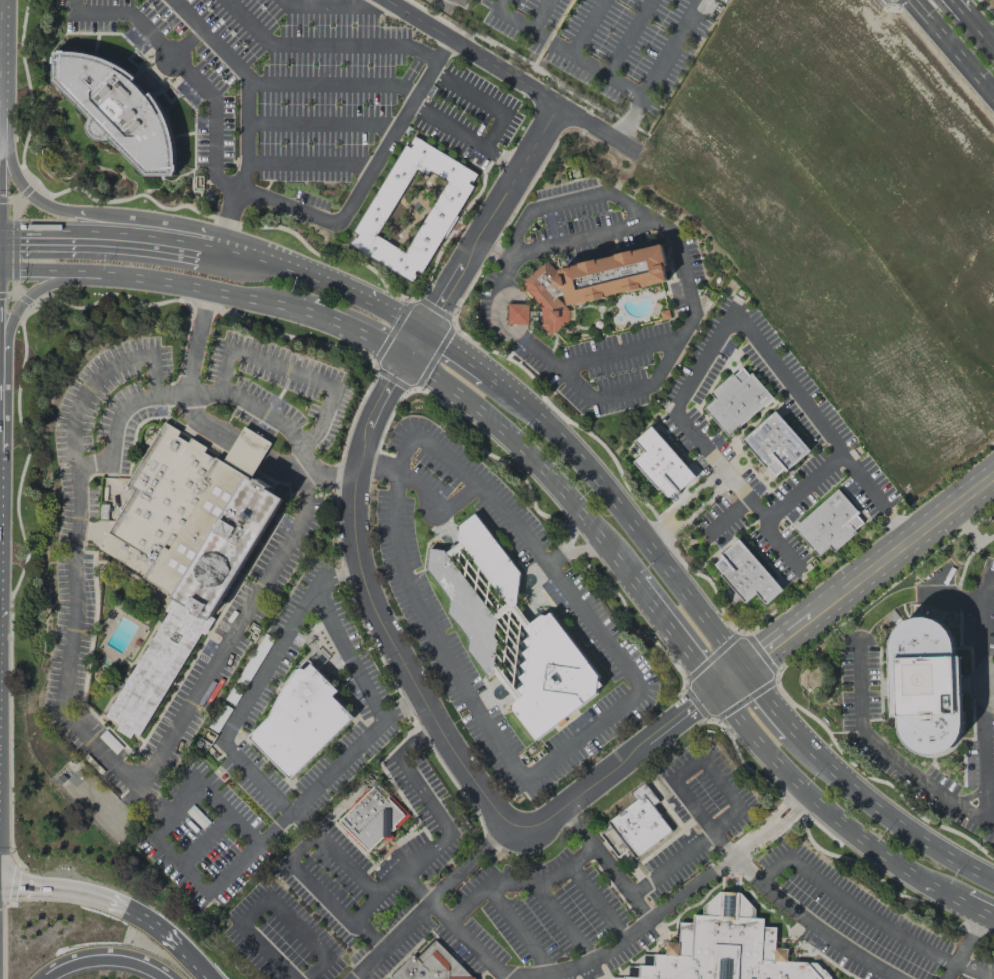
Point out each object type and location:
road: (960, 4)
road: (326, 5)
road: (71, 6)
road: (979, 26)
road: (324, 44)
road: (953, 47)
road: (565, 50)
road: (186, 71)
road: (246, 79)
road: (331, 85)
road: (641, 97)
road: (484, 100)
building: (118, 110)
road: (320, 125)
road: (446, 127)
road: (503, 160)
road: (308, 164)
road: (366, 175)
road: (567, 200)
building: (413, 209)
road: (230, 212)
road: (139, 221)
traffic signals: (15, 231)
road: (100, 231)
road: (260, 260)
road: (40, 273)
building: (592, 283)
road: (195, 287)
road: (32, 293)
road: (356, 294)
building: (517, 314)
road: (692, 318)
road: (408, 321)
road: (723, 322)
road: (361, 330)
road: (194, 341)
road: (455, 351)
road: (294, 373)
road: (624, 392)
building: (736, 400)
road: (116, 418)
road: (280, 421)
road: (200, 425)
building: (777, 445)
road: (247, 452)
road: (533, 458)
building: (662, 464)
road: (283, 469)
road: (355, 486)
road: (799, 487)
road: (78, 489)
road: (436, 502)
road: (683, 507)
road: (623, 513)
building: (829, 525)
road: (570, 532)
building: (187, 547)
road: (584, 550)
road: (966, 555)
road: (554, 559)
building: (746, 574)
road: (855, 584)
road: (953, 598)
road: (957, 600)
road: (978, 625)
building: (510, 631)
road: (675, 636)
road: (346, 652)
road: (208, 678)
road: (970, 683)
road: (981, 683)
road: (254, 685)
building: (925, 687)
road: (970, 693)
road: (766, 700)
building: (300, 721)
road: (583, 735)
road: (416, 740)
road: (982, 752)
road: (889, 754)
road: (335, 764)
road: (973, 778)
road: (720, 781)
road: (171, 809)
road: (827, 810)
road: (226, 813)
road: (885, 814)
building: (371, 818)
building: (639, 823)
road: (204, 841)
road: (301, 845)
road: (434, 846)
road: (670, 862)
road: (347, 864)
road: (606, 864)
road: (178, 866)
road: (772, 869)
road: (234, 870)
road: (516, 883)
traffic signals: (11, 886)
road: (320, 891)
road: (770, 896)
road: (102, 897)
road: (427, 900)
road: (598, 902)
road: (669, 905)
road: (978, 910)
road: (562, 920)
road: (293, 922)
road: (884, 926)
road: (454, 927)
road: (517, 928)
road: (369, 933)
road: (963, 946)
building: (724, 948)
road: (112, 951)
road: (265, 951)
road: (33, 953)
road: (9, 965)
building: (432, 966)
road: (198, 967)

